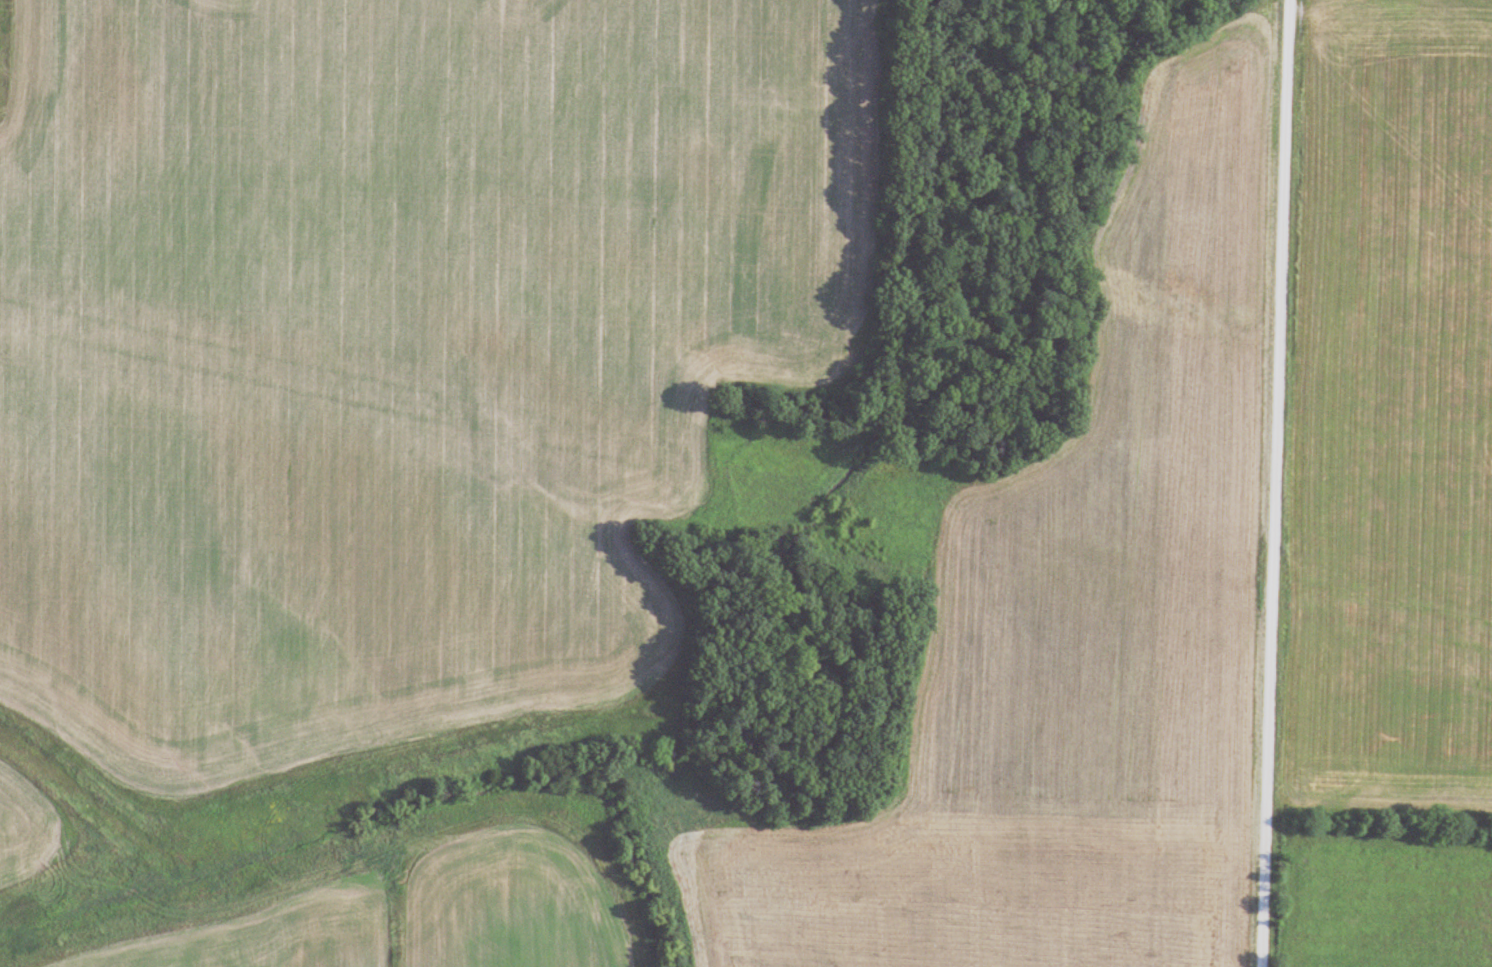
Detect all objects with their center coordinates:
road: (1273, 483)

